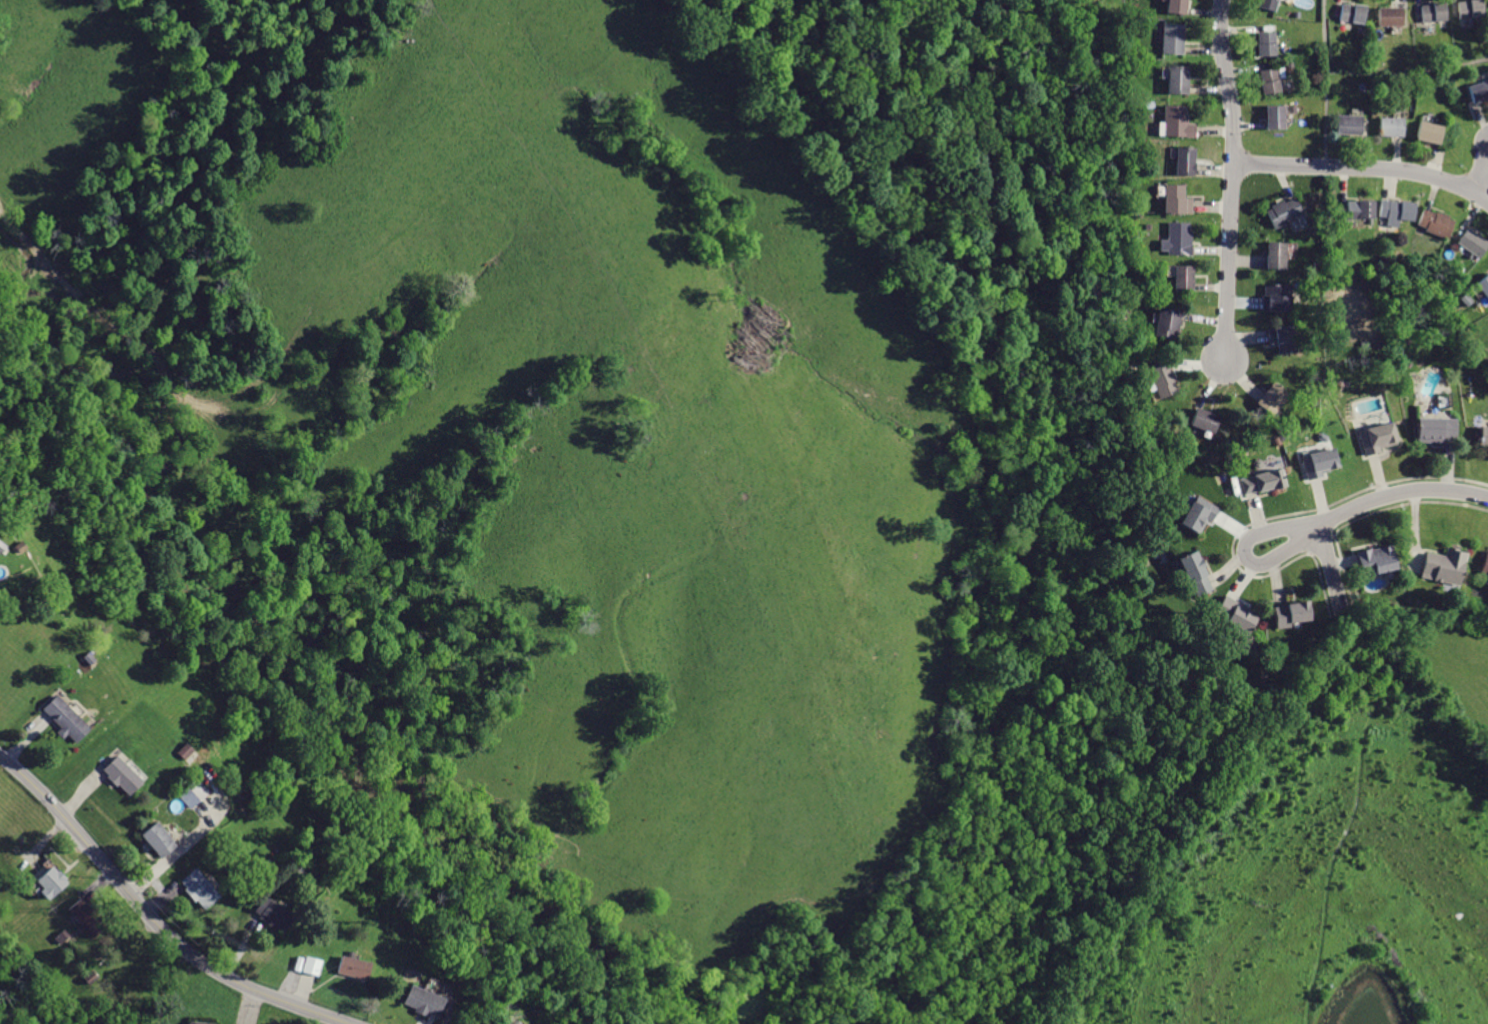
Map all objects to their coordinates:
building: (1265, 4)
building: (1173, 6)
building: (1469, 8)
building: (1433, 12)
building: (1351, 14)
building: (1390, 16)
road: (1323, 34)
building: (1171, 38)
building: (1266, 43)
road: (1407, 73)
building: (1176, 78)
building: (1269, 81)
building: (1478, 90)
building: (1274, 118)
road: (1325, 118)
building: (1175, 122)
building: (1347, 125)
building: (1388, 128)
building: (1427, 133)
building: (1183, 159)
road: (1364, 168)
road: (1233, 179)
road: (1481, 182)
building: (1173, 197)
building: (1358, 207)
building: (1396, 209)
building: (1282, 212)
building: (1434, 222)
building: (1176, 239)
building: (1471, 242)
building: (1274, 255)
building: (1180, 277)
building: (1482, 285)
building: (1275, 296)
building: (1165, 322)
building: (1281, 338)
building: (1162, 378)
building: (1271, 397)
building: (1205, 420)
building: (1433, 428)
building: (1375, 437)
building: (1482, 437)
building: (1316, 461)
building: (1261, 479)
road: (1400, 492)
building: (1197, 515)
building: (1, 546)
road: (1245, 555)
building: (1370, 559)
building: (1441, 565)
building: (1483, 565)
road: (1330, 569)
building: (1192, 572)
building: (1288, 612)
building: (1232, 613)
building: (65, 718)
building: (121, 774)
building: (191, 792)
road: (1325, 831)
building: (157, 839)
building: (51, 881)
building: (198, 888)
building: (272, 913)
building: (86, 916)
road: (151, 920)
building: (305, 964)
building: (351, 966)
building: (421, 1000)
building: (505, 1022)

